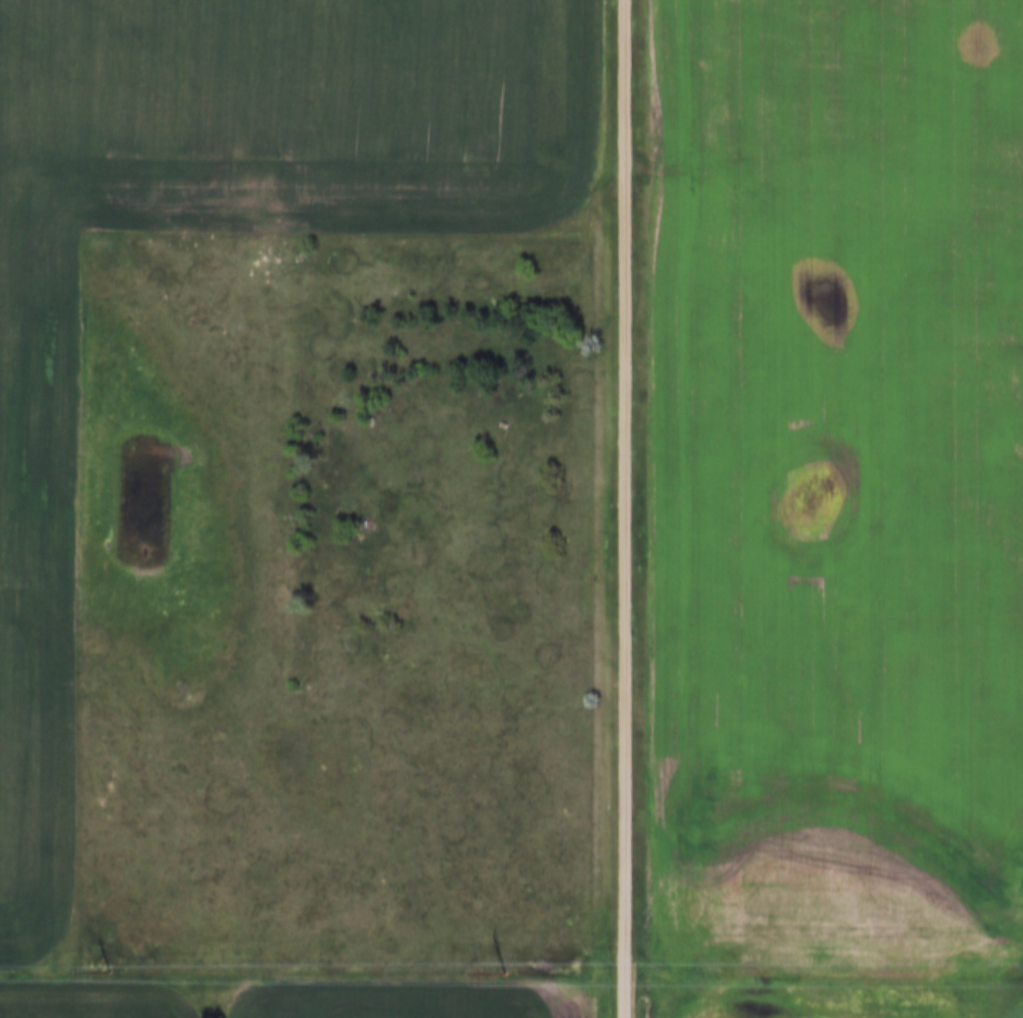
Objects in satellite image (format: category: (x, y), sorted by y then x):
road: (626, 509)

